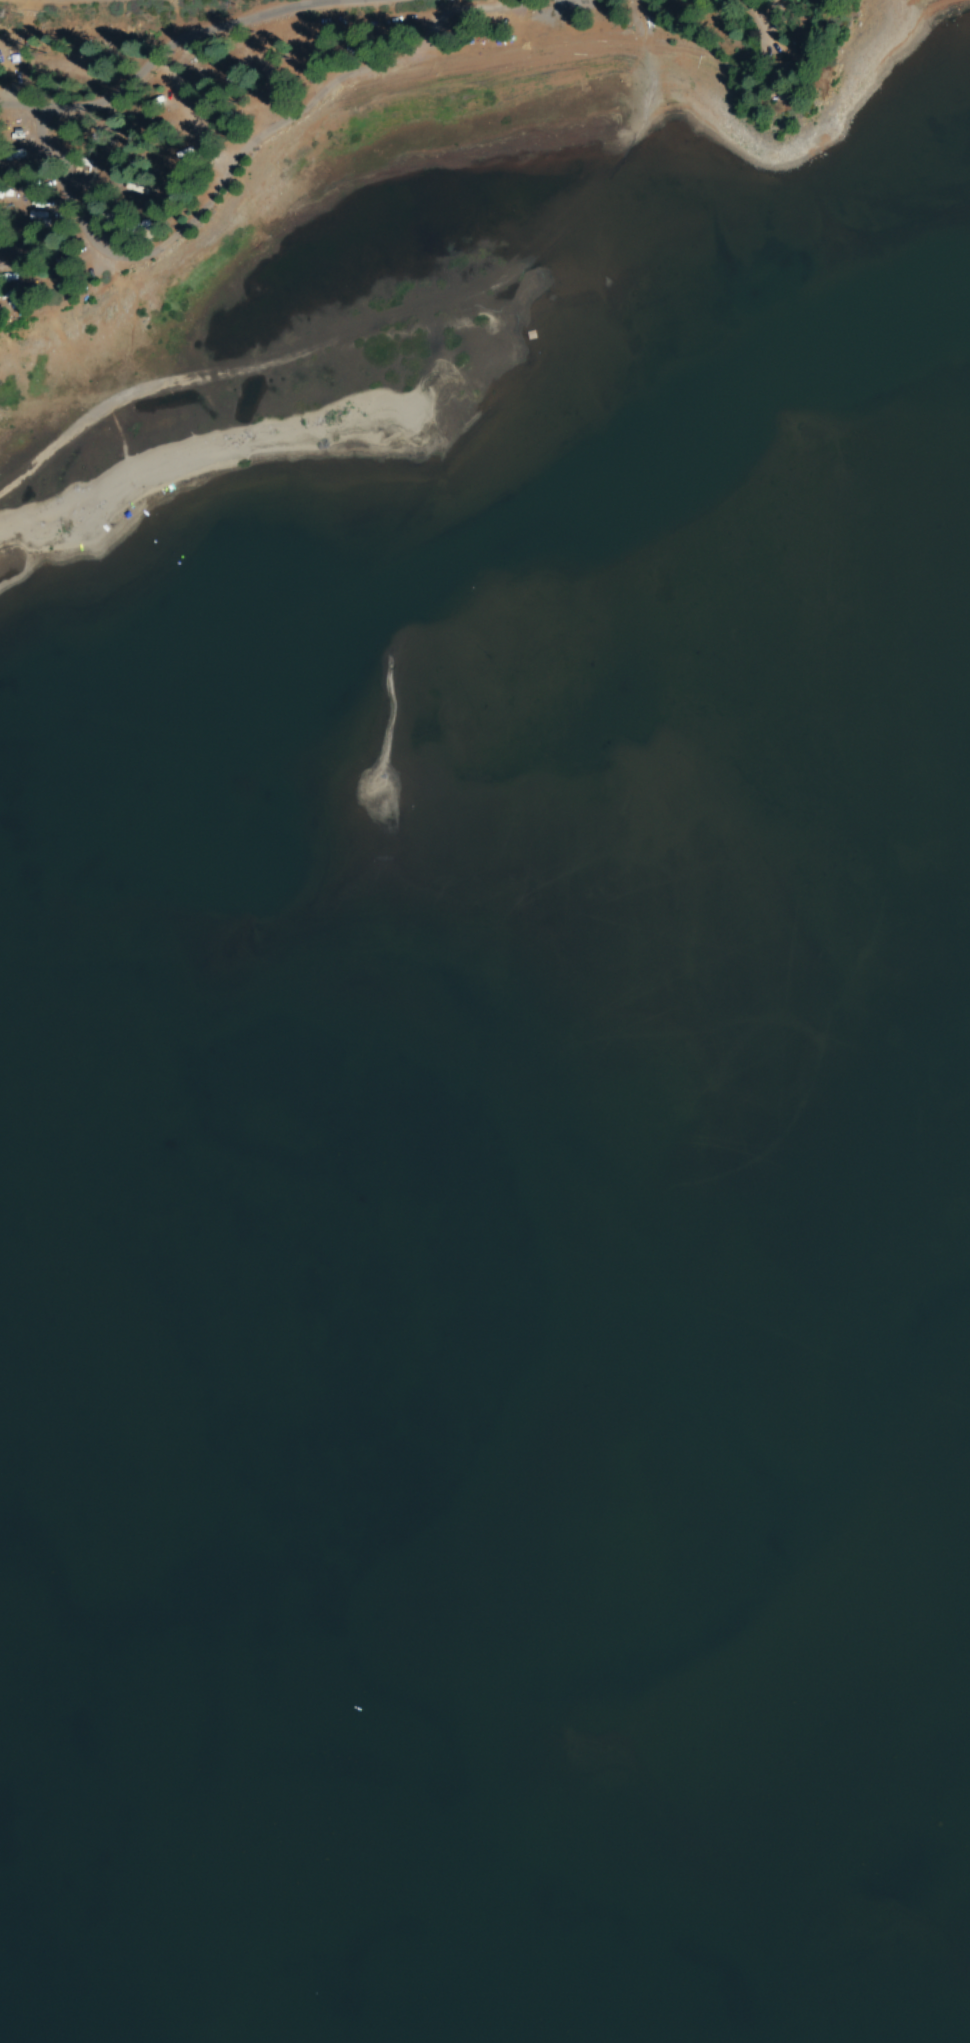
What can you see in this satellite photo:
road: (184, 57)

